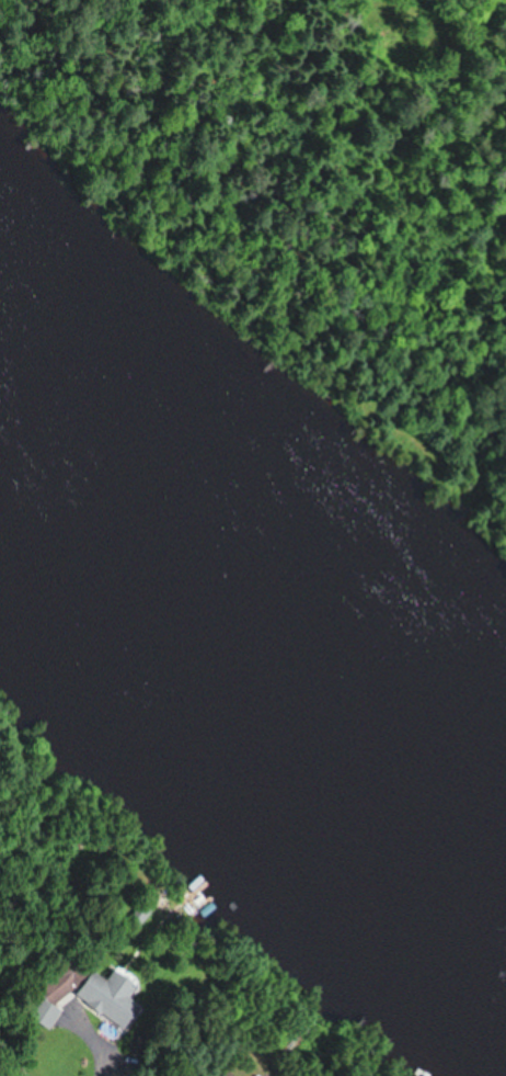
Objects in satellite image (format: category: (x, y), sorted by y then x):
river: (253, 709)
building: (229, 1075)

